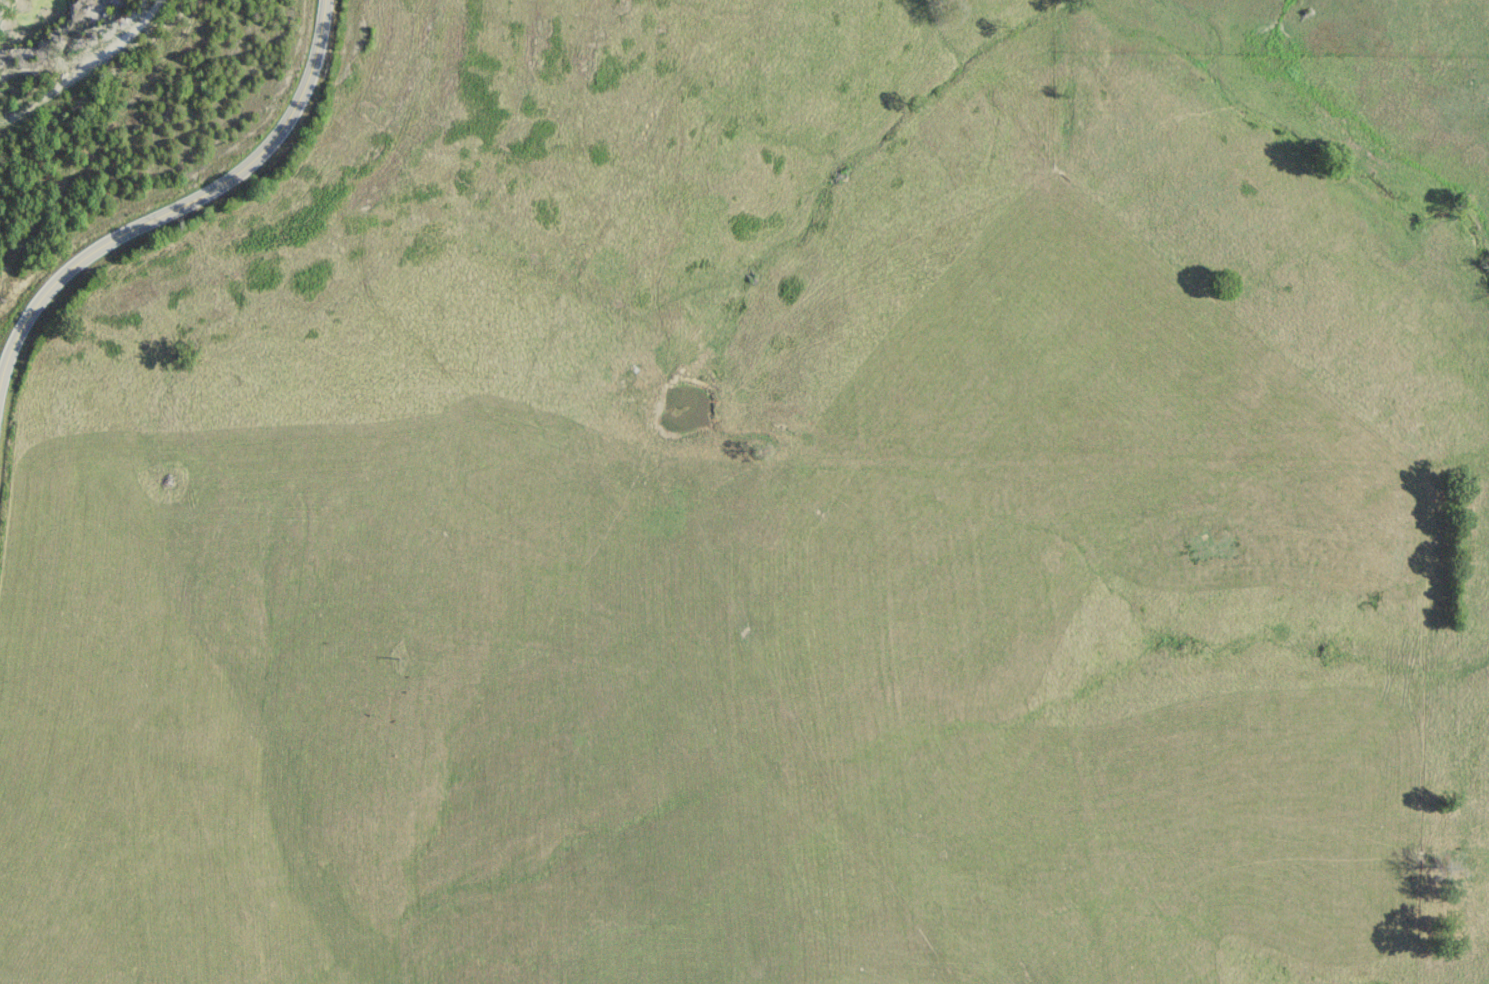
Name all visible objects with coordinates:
road: (187, 195)

